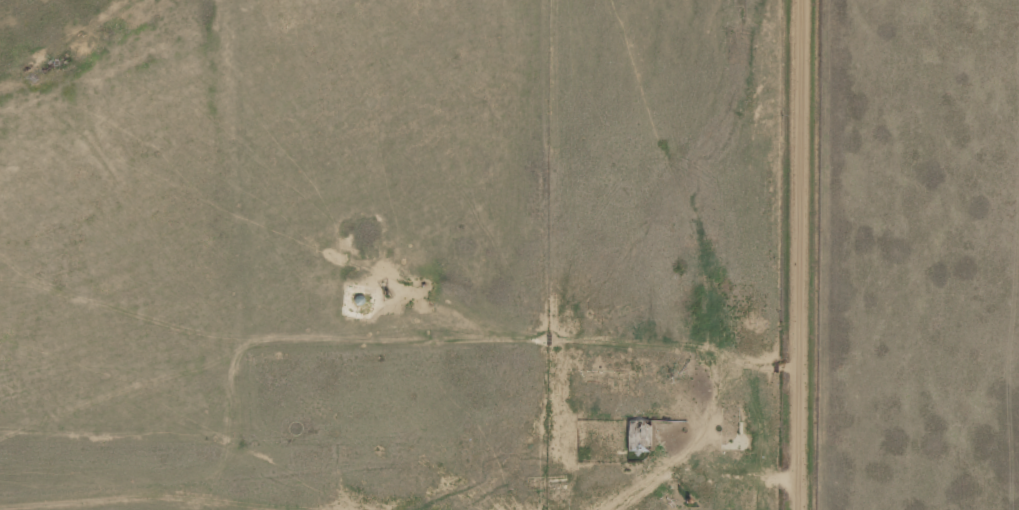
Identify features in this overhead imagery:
road: (805, 255)

